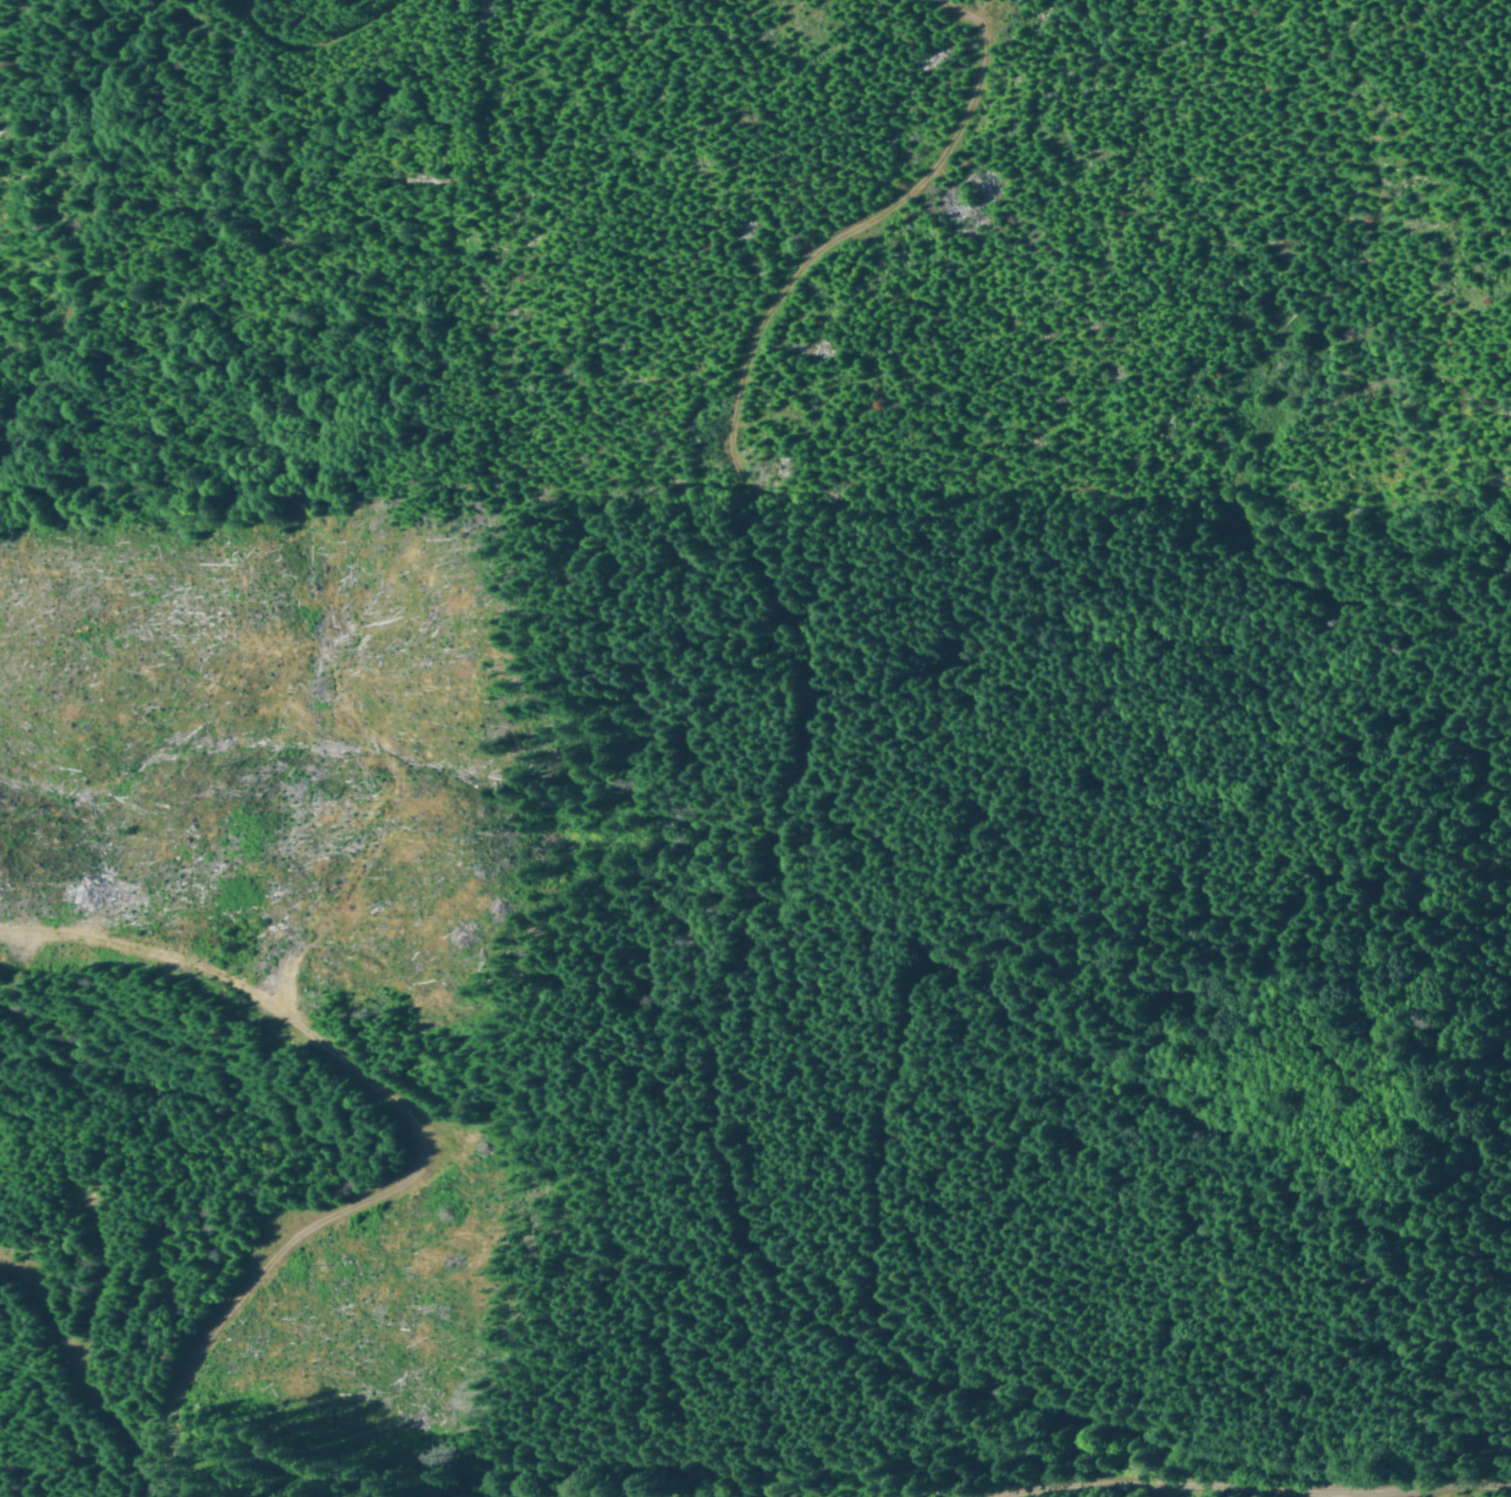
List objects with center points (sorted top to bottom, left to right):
road: (1316, 1492)

